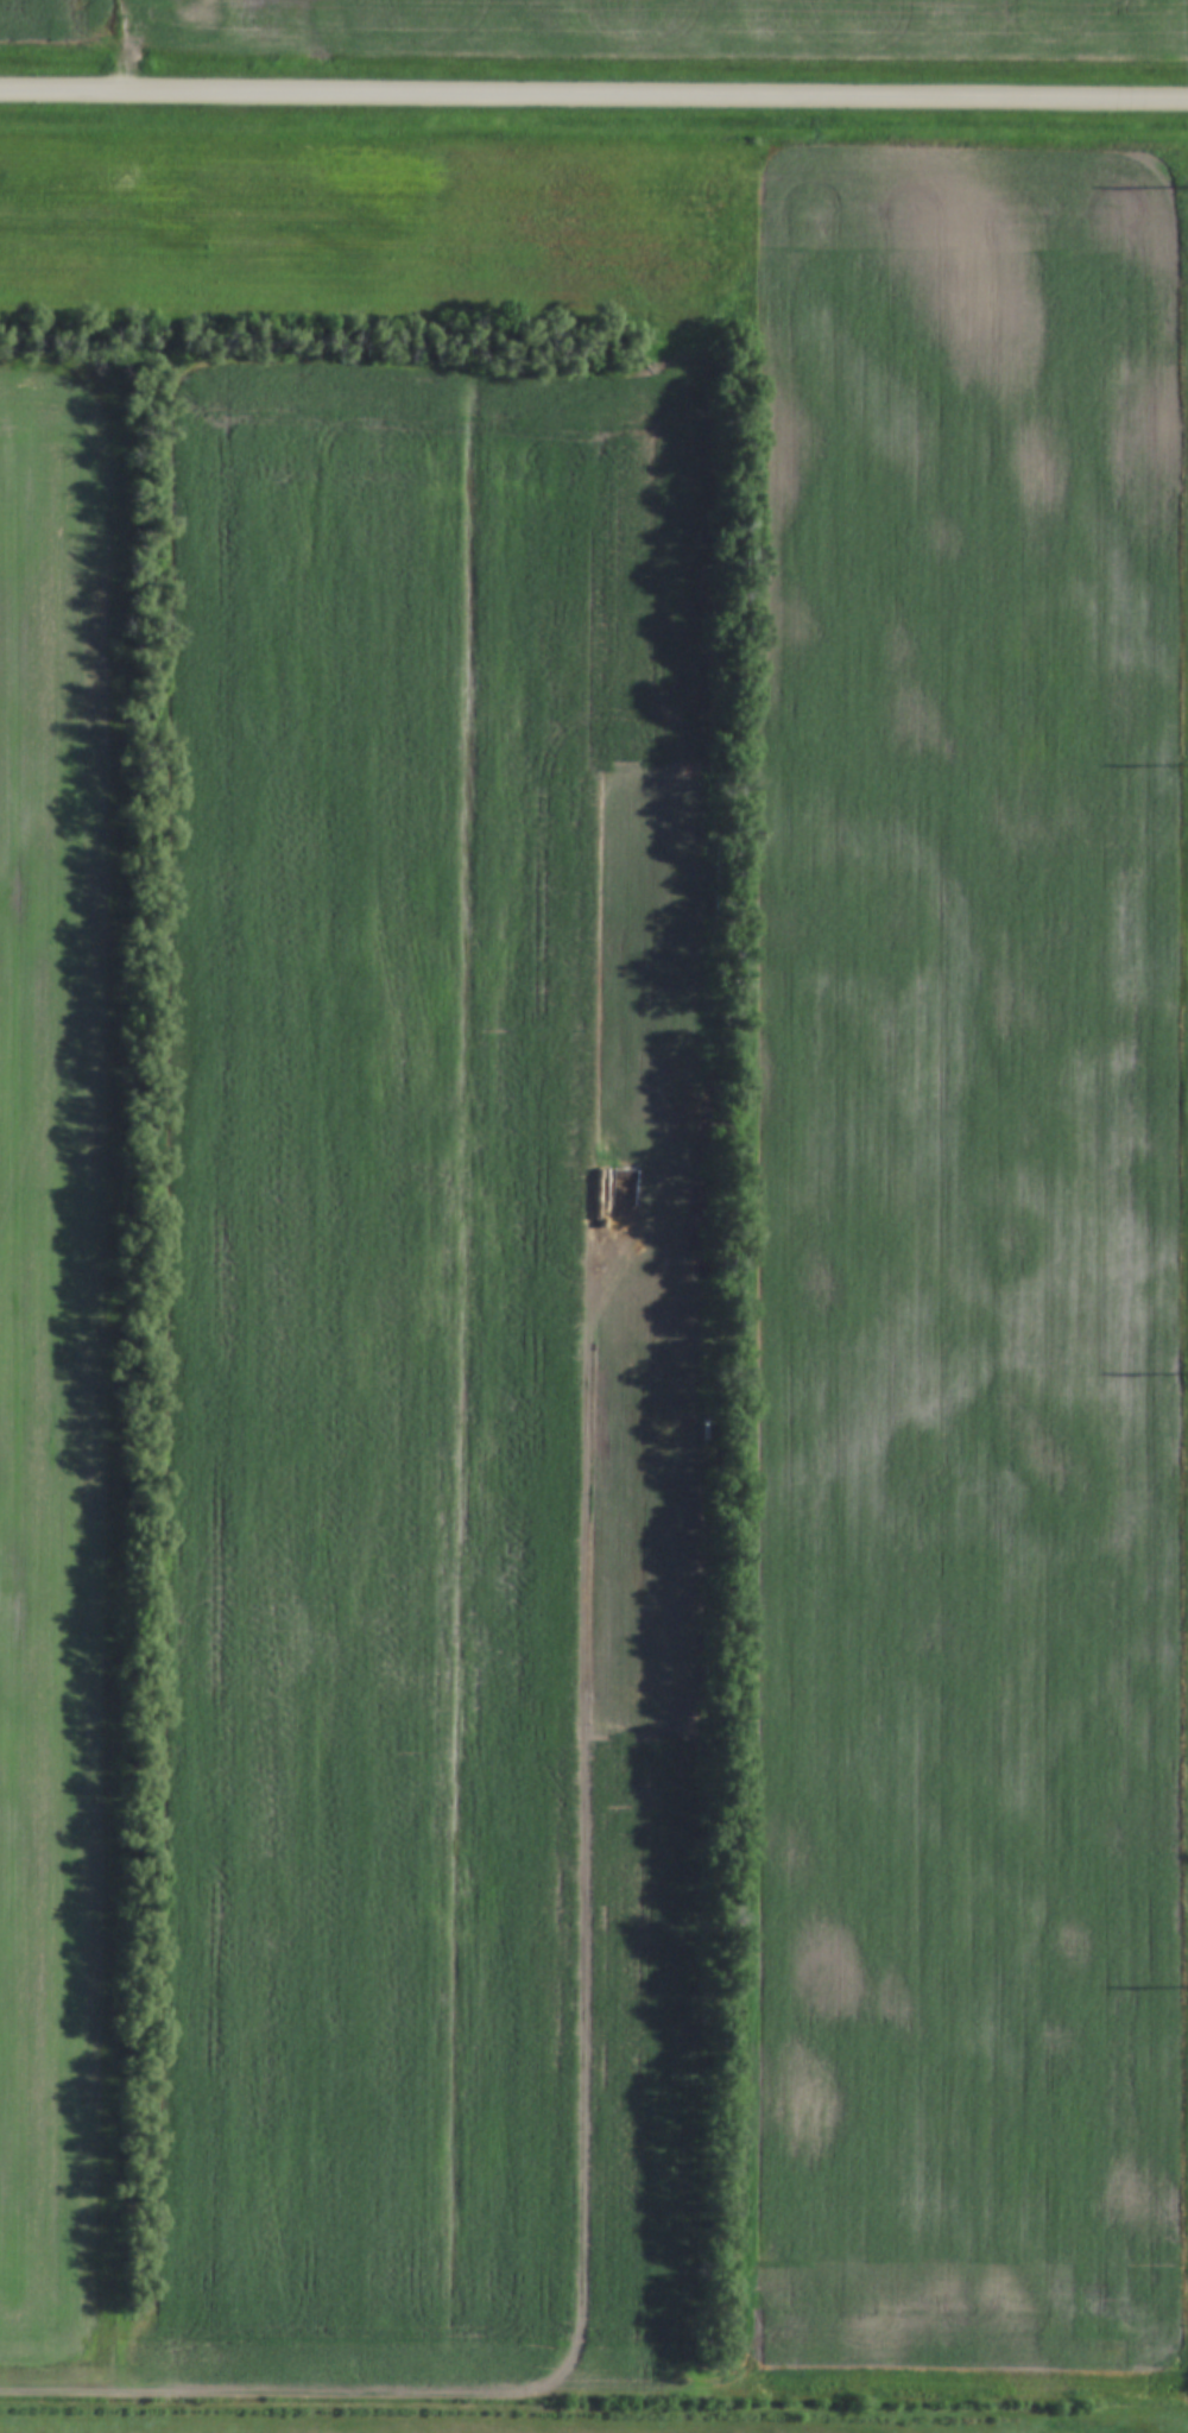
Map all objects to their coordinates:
road: (594, 97)
power tower: (1184, 185)
road: (284, 2397)

